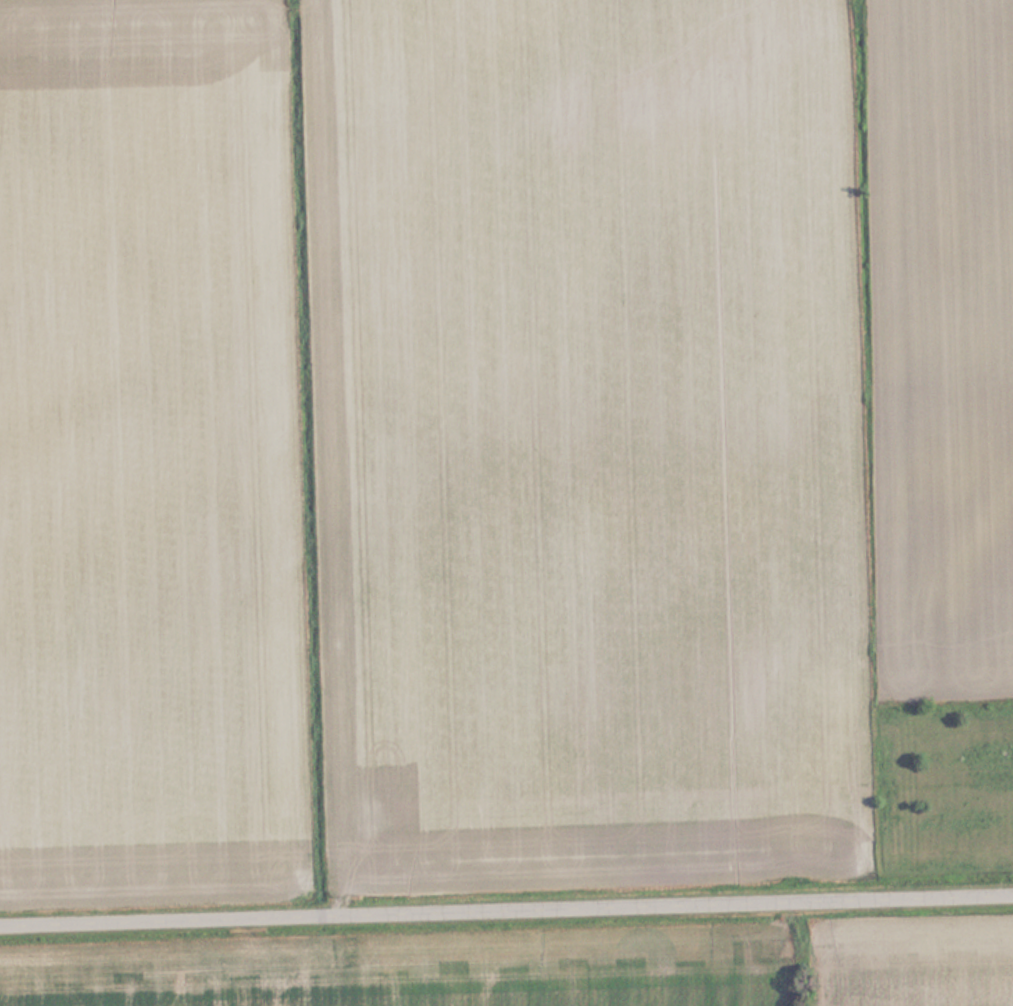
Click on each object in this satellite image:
road: (331, 457)
road: (506, 910)

